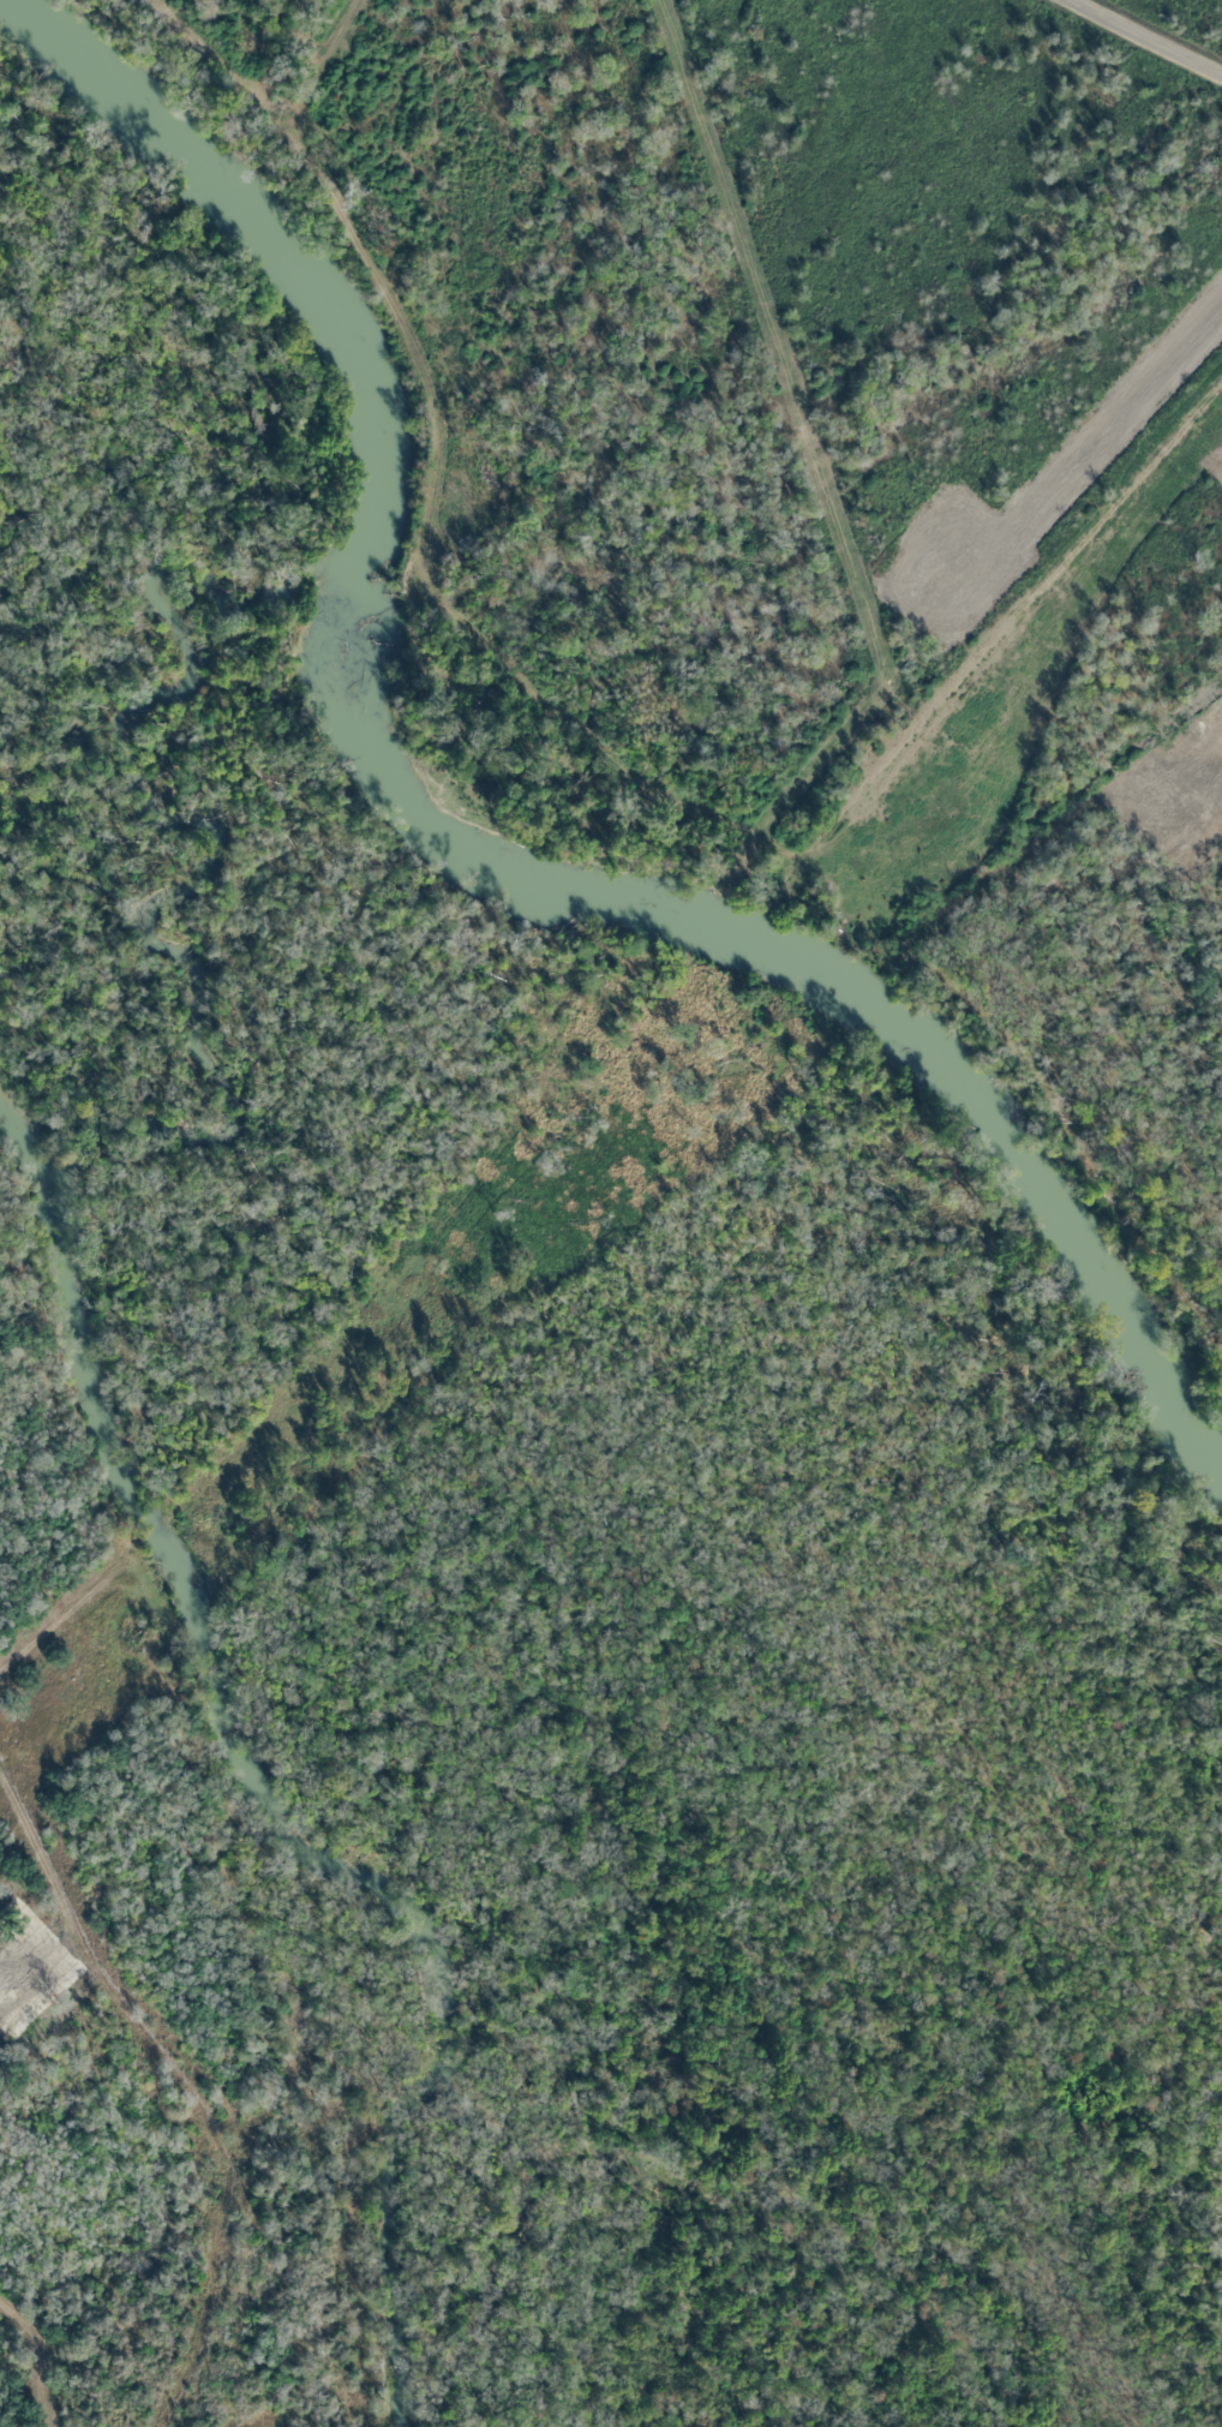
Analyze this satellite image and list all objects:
road: (1152, 35)
road: (557, 753)
river: (462, 835)

